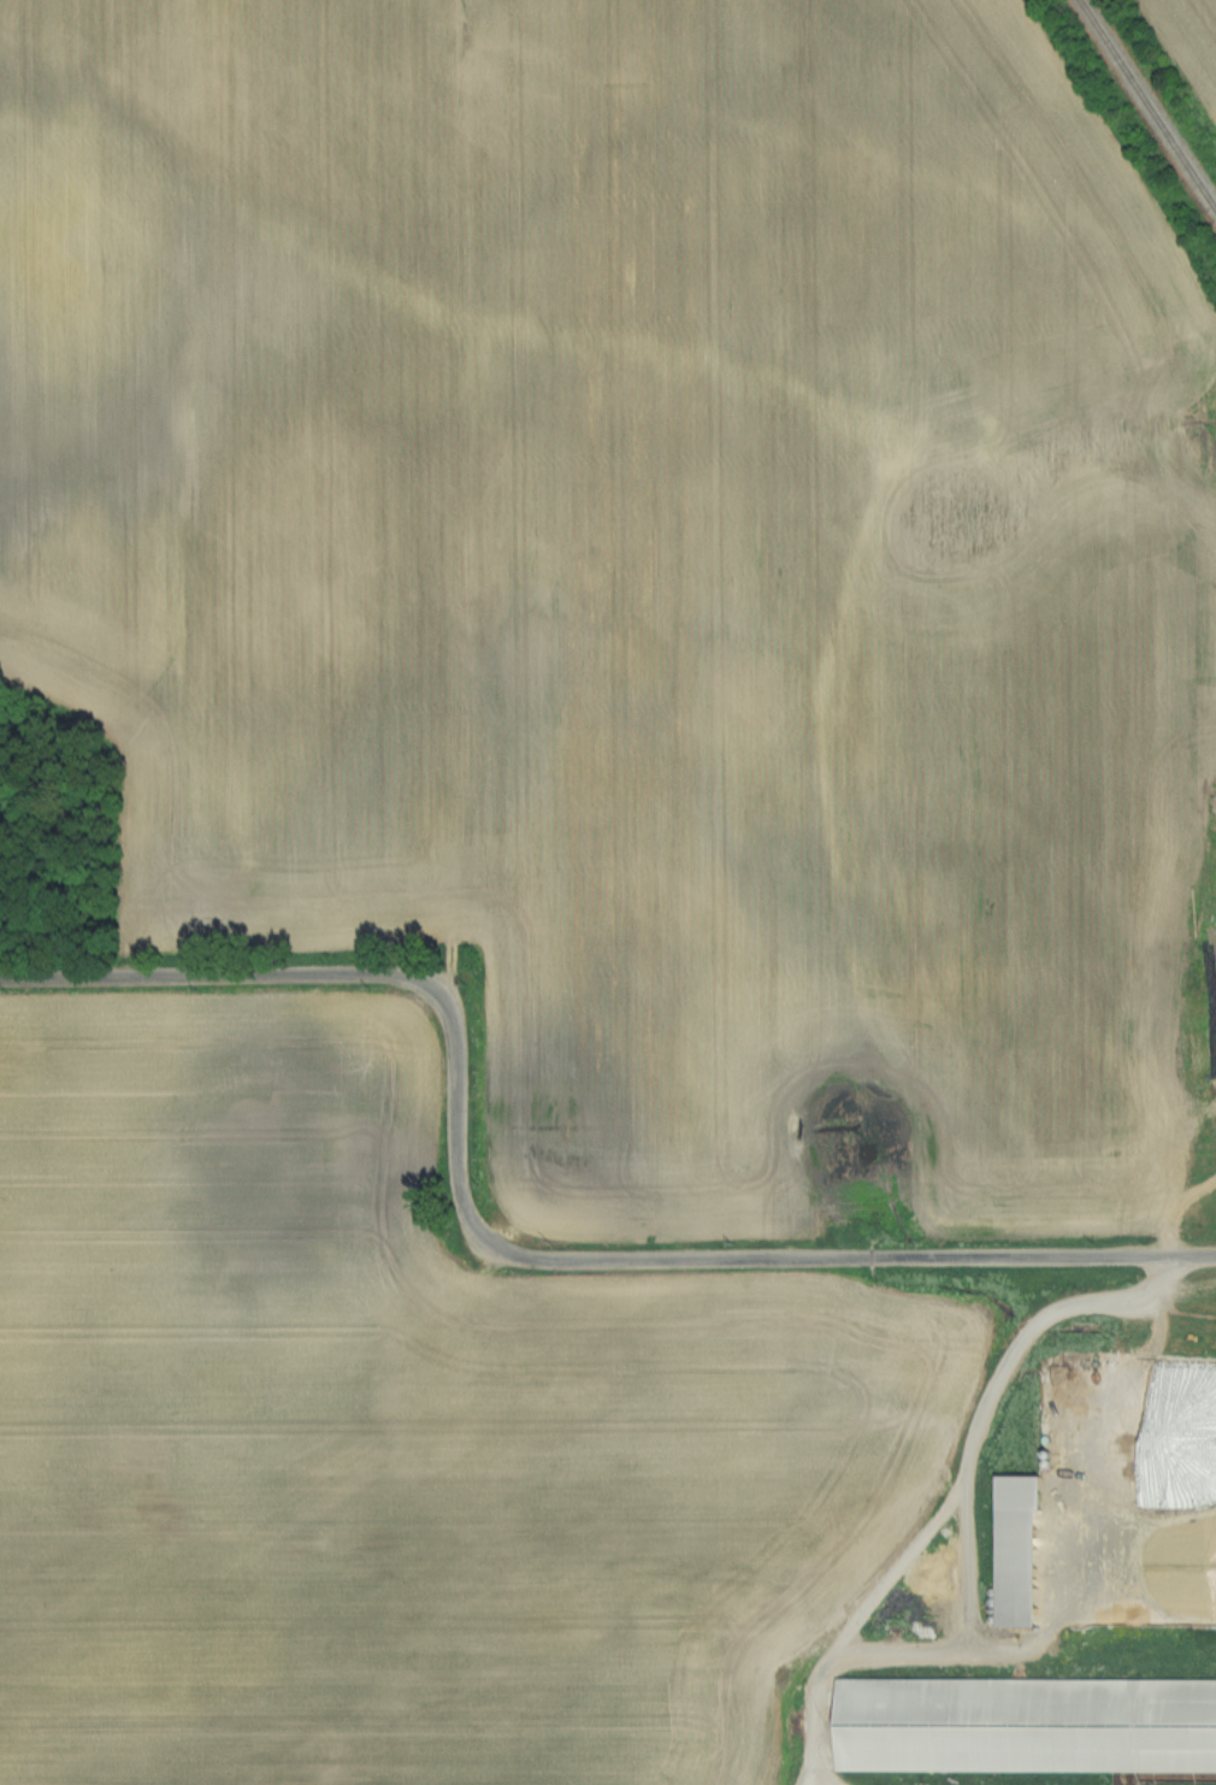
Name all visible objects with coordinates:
railway: (1144, 108)
road: (500, 1249)
road: (961, 1530)
building: (1027, 1567)
building: (1028, 1725)
road: (827, 1772)

